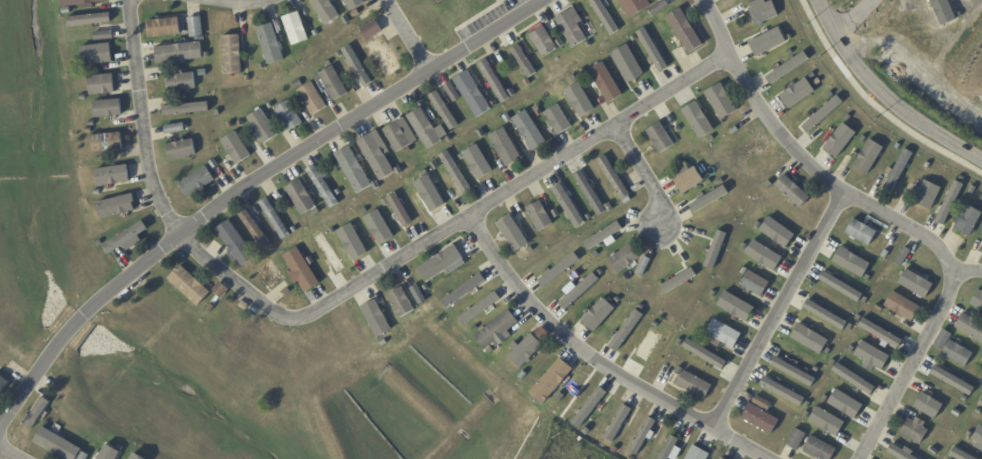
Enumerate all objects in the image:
road: (241, 0)
park: (437, 1)
building: (481, 1)
building: (81, 2)
building: (357, 4)
building: (635, 6)
building: (660, 7)
building: (326, 10)
building: (67, 11)
building: (357, 13)
building: (765, 13)
road: (476, 14)
building: (605, 16)
parking lot: (486, 17)
road: (855, 17)
building: (347, 19)
building: (90, 20)
building: (166, 27)
building: (197, 27)
building: (659, 27)
building: (297, 29)
building: (572, 29)
building: (374, 30)
building: (685, 30)
building: (647, 32)
building: (316, 33)
building: (105, 35)
road: (404, 35)
building: (202, 39)
building: (771, 40)
building: (594, 41)
building: (544, 43)
building: (561, 43)
building: (272, 44)
building: (589, 44)
building: (652, 52)
building: (790, 52)
building: (179, 53)
building: (98, 54)
building: (232, 55)
building: (340, 55)
building: (384, 56)
building: (524, 61)
building: (358, 65)
building: (629, 65)
building: (263, 67)
building: (788, 68)
building: (584, 71)
building: (812, 76)
building: (248, 78)
building: (573, 78)
building: (494, 81)
building: (181, 82)
building: (606, 82)
building: (817, 82)
building: (299, 83)
building: (334, 84)
building: (102, 85)
building: (512, 92)
building: (454, 93)
building: (473, 94)
building: (798, 94)
building: (830, 94)
building: (83, 97)
building: (196, 97)
road: (882, 97)
building: (312, 98)
building: (580, 100)
building: (722, 102)
building: (495, 104)
road: (874, 104)
building: (271, 105)
building: (108, 108)
building: (184, 109)
building: (445, 111)
building: (539, 113)
building: (823, 114)
building: (289, 116)
building: (507, 118)
building: (848, 118)
road: (141, 119)
building: (558, 120)
building: (698, 120)
building: (92, 123)
building: (241, 124)
building: (231, 125)
building: (263, 126)
building: (177, 129)
building: (425, 129)
building: (90, 130)
building: (530, 130)
building: (734, 130)
building: (482, 134)
building: (447, 135)
building: (397, 137)
building: (470, 138)
building: (662, 138)
building: (864, 139)
building: (841, 141)
building: (504, 143)
building: (108, 144)
building: (899, 146)
building: (236, 148)
building: (182, 150)
building: (377, 157)
building: (868, 157)
building: (479, 162)
building: (215, 164)
building: (435, 165)
building: (928, 165)
building: (354, 169)
building: (899, 171)
building: (455, 172)
road: (643, 172)
building: (114, 175)
building: (689, 179)
building: (614, 181)
building: (198, 182)
building: (721, 182)
building: (407, 183)
building: (709, 183)
road: (243, 184)
building: (377, 185)
building: (324, 186)
building: (125, 189)
building: (973, 189)
building: (793, 191)
building: (98, 192)
building: (340, 193)
building: (430, 194)
building: (592, 194)
building: (928, 195)
building: (303, 197)
building: (710, 199)
building: (950, 203)
building: (118, 206)
building: (569, 206)
building: (610, 208)
building: (401, 210)
building: (364, 211)
building: (556, 213)
building: (540, 216)
road: (889, 218)
building: (276, 219)
building: (970, 221)
road: (451, 225)
building: (758, 225)
building: (379, 228)
building: (572, 228)
building: (255, 230)
building: (295, 230)
building: (333, 231)
building: (778, 232)
building: (862, 232)
building: (981, 232)
building: (604, 235)
building: (126, 237)
building: (307, 237)
building: (516, 237)
building: (276, 242)
building: (100, 243)
building: (237, 243)
building: (353, 243)
building: (745, 246)
building: (716, 249)
building: (329, 252)
building: (540, 252)
building: (596, 254)
building: (886, 254)
building: (765, 256)
building: (904, 256)
building: (625, 258)
building: (312, 261)
building: (445, 262)
building: (852, 262)
building: (644, 265)
building: (302, 269)
building: (559, 270)
building: (744, 270)
road: (967, 270)
building: (601, 272)
building: (272, 275)
building: (869, 278)
building: (679, 280)
building: (916, 283)
building: (756, 284)
building: (191, 286)
building: (841, 287)
building: (222, 290)
building: (464, 290)
building: (579, 291)
building: (714, 294)
building: (420, 295)
building: (618, 300)
building: (867, 300)
building: (978, 300)
building: (401, 303)
building: (903, 306)
building: (641, 307)
building: (736, 307)
building: (479, 308)
building: (880, 308)
building: (211, 309)
road: (776, 310)
building: (599, 315)
building: (826, 316)
building: (859, 318)
building: (379, 322)
building: (656, 324)
building: (852, 327)
building: (970, 327)
building: (501, 328)
building: (627, 330)
building: (725, 333)
building: (881, 334)
building: (811, 339)
building: (395, 342)
building: (680, 342)
building: (649, 345)
building: (853, 349)
building: (953, 349)
building: (526, 350)
building: (830, 352)
building: (706, 354)
building: (874, 356)
road: (598, 361)
building: (834, 363)
building: (817, 369)
building: (680, 371)
building: (794, 372)
building: (524, 375)
building: (854, 379)
building: (552, 381)
building: (954, 381)
building: (3, 384)
building: (695, 385)
building: (783, 392)
building: (826, 399)
building: (965, 399)
building: (980, 402)
building: (764, 404)
building: (847, 404)
building: (809, 405)
building: (930, 406)
building: (589, 407)
building: (957, 412)
building: (807, 415)
building: (34, 418)
building: (762, 419)
building: (827, 422)
building: (618, 423)
building: (915, 431)
building: (642, 436)
building: (798, 439)
building: (979, 439)
building: (112, 440)
building: (59, 445)
building: (821, 449)
building: (117, 450)
building: (615, 450)
building: (668, 451)
building: (935, 451)
building: (107, 452)
road: (9, 453)
building: (699, 453)
building: (900, 453)
building: (961, 455)
building: (137, 457)
building: (720, 458)
building: (722, 458)

